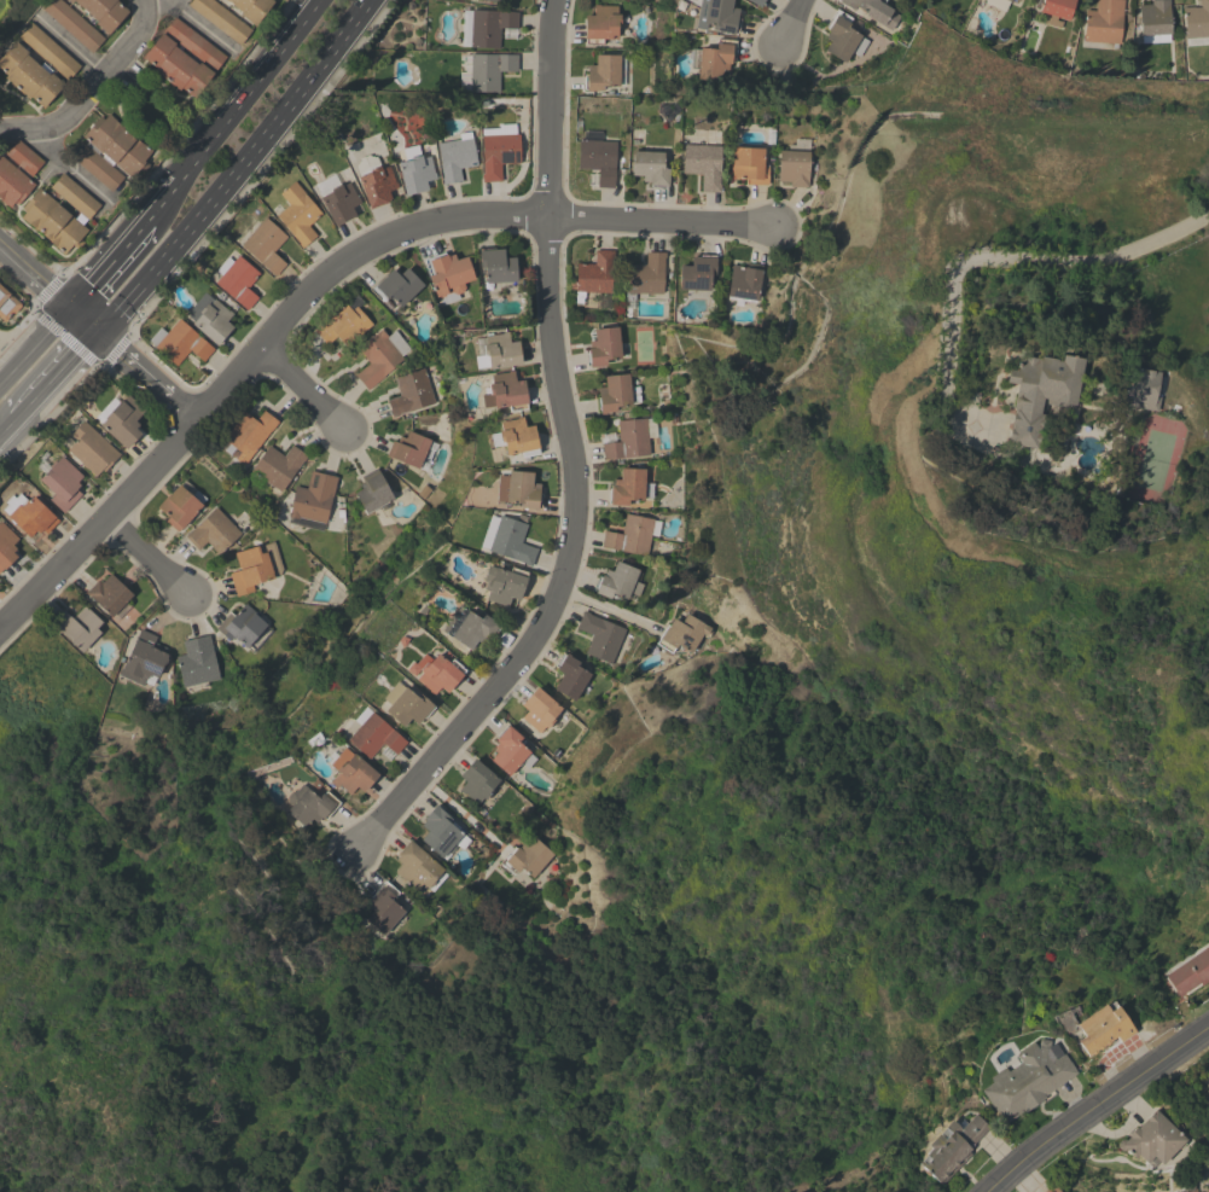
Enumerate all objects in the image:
building: (70, 0)
building: (1009, 0)
building: (1016, 0)
building: (495, 1)
building: (756, 2)
building: (996, 2)
road: (163, 7)
building: (251, 7)
building: (874, 11)
building: (1054, 11)
building: (104, 12)
building: (717, 16)
building: (220, 18)
building: (1153, 21)
building: (1103, 22)
building: (72, 23)
building: (601, 23)
road: (792, 23)
building: (1196, 23)
building: (487, 28)
road: (203, 33)
building: (842, 36)
building: (48, 51)
road: (71, 51)
building: (182, 57)
building: (713, 58)
building: (484, 70)
building: (604, 71)
building: (28, 74)
road: (95, 92)
road: (250, 93)
road: (257, 143)
building: (498, 149)
building: (110, 151)
building: (455, 156)
building: (23, 157)
building: (597, 158)
building: (794, 162)
building: (703, 164)
building: (748, 164)
road: (70, 167)
building: (650, 167)
building: (414, 170)
building: (374, 179)
building: (12, 184)
building: (74, 194)
building: (337, 198)
road: (161, 202)
building: (297, 213)
building: (52, 221)
building: (263, 242)
road: (109, 262)
road: (1012, 262)
building: (496, 266)
building: (447, 272)
building: (697, 272)
building: (593, 274)
building: (645, 275)
building: (237, 279)
building: (744, 279)
road: (318, 283)
building: (396, 285)
building: (5, 301)
traffic signals: (74, 304)
road: (121, 304)
building: (210, 318)
building: (344, 322)
road: (99, 328)
traffic signals: (99, 328)
building: (179, 342)
road: (36, 344)
building: (603, 345)
building: (496, 350)
building: (379, 355)
road: (56, 373)
building: (1139, 388)
building: (504, 390)
road: (302, 391)
building: (409, 391)
building: (614, 393)
building: (1040, 393)
building: (120, 419)
road: (7, 428)
building: (249, 434)
building: (516, 437)
building: (629, 438)
building: (91, 448)
building: (412, 449)
road: (570, 463)
building: (275, 466)
building: (59, 481)
building: (629, 487)
building: (518, 488)
building: (372, 490)
building: (312, 499)
building: (180, 505)
building: (29, 513)
building: (213, 531)
building: (632, 534)
building: (507, 539)
building: (6, 546)
road: (146, 558)
building: (254, 566)
building: (617, 581)
building: (504, 583)
building: (109, 593)
building: (79, 626)
building: (243, 627)
building: (469, 627)
building: (681, 633)
building: (600, 635)
building: (143, 659)
building: (197, 661)
building: (436, 671)
building: (570, 676)
building: (406, 704)
building: (539, 709)
building: (373, 733)
building: (510, 750)
building: (350, 771)
building: (479, 783)
building: (309, 804)
building: (441, 832)
building: (527, 857)
building: (418, 867)
building: (383, 907)
building: (1188, 971)
building: (1102, 1028)
building: (1027, 1078)
building: (1207, 1080)
road: (1097, 1109)
building: (1150, 1139)
building: (949, 1147)
building: (1052, 1188)

